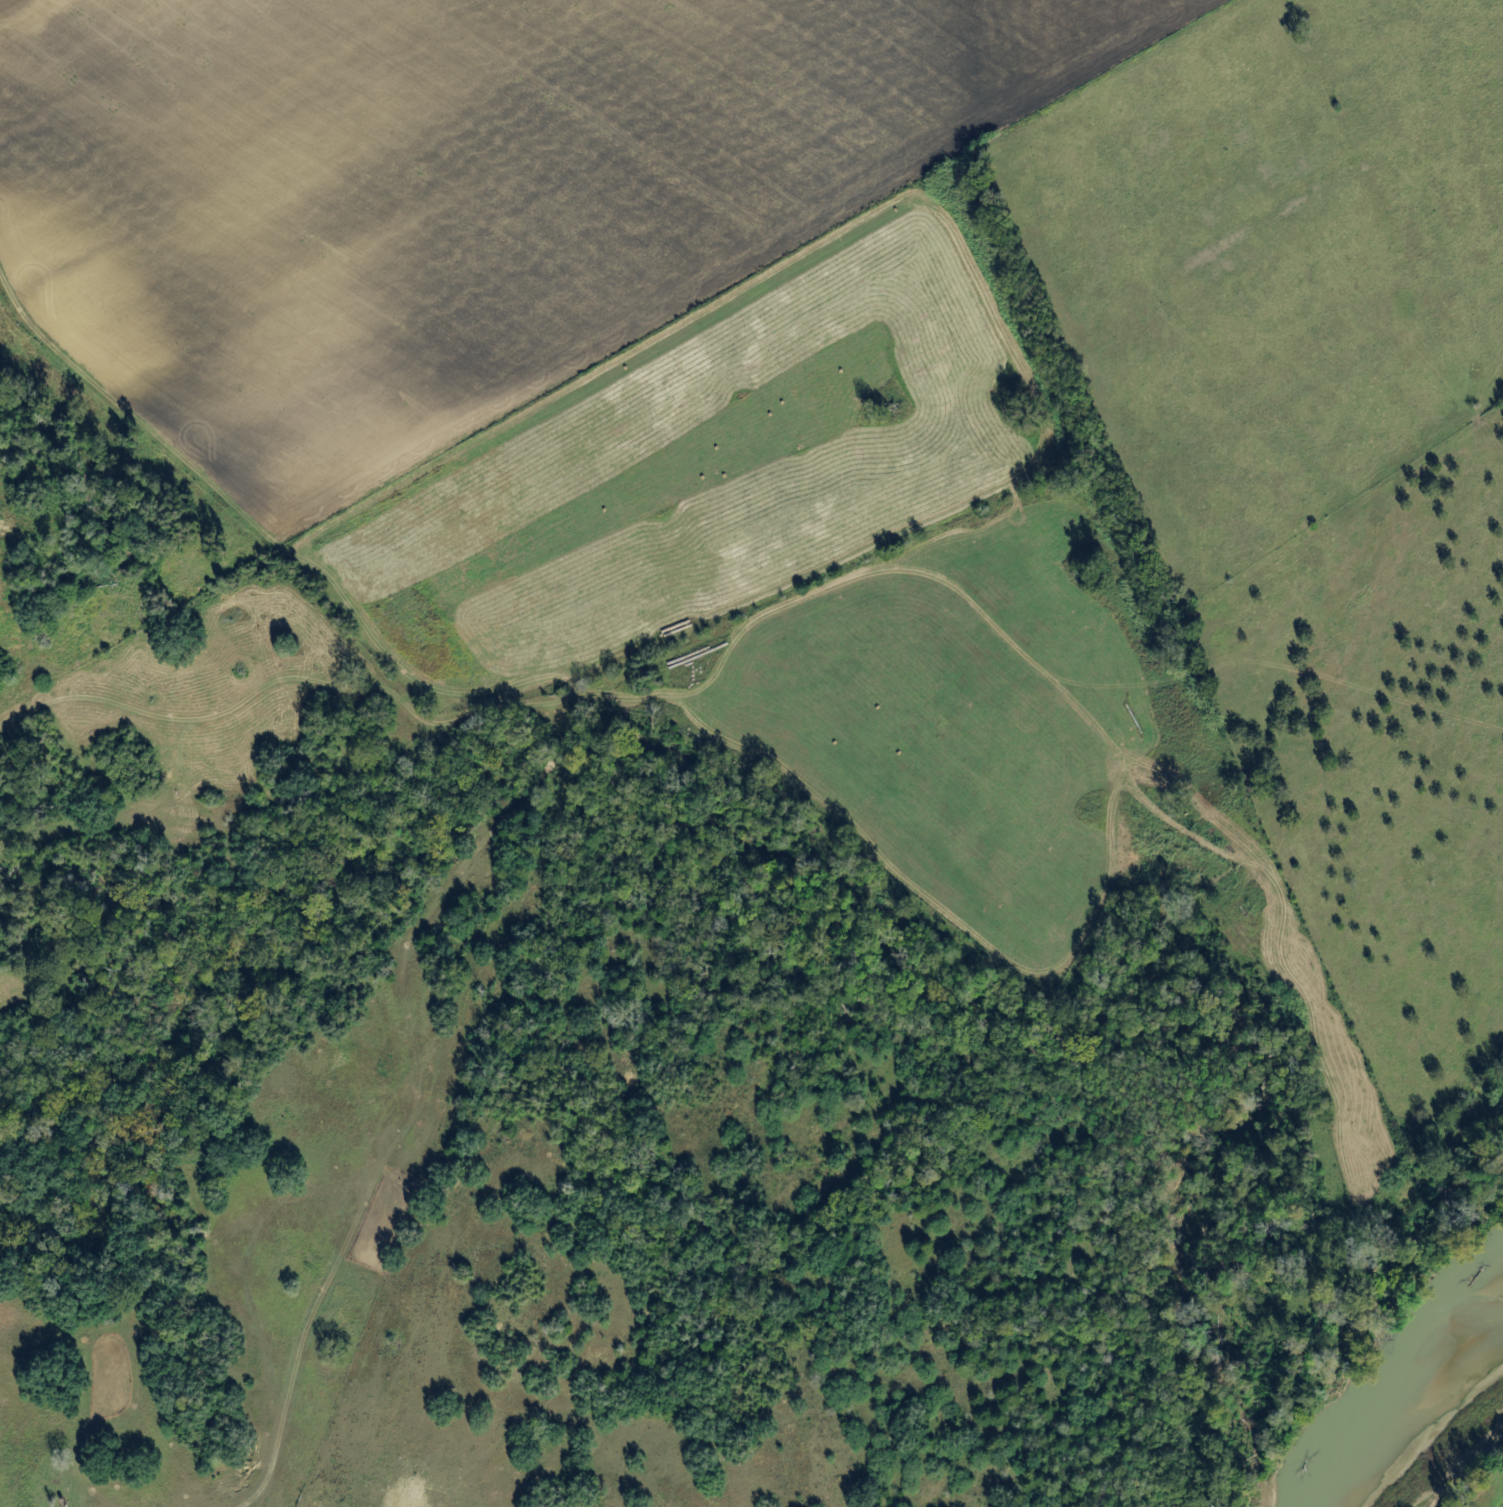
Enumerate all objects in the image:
road: (657, 661)
road: (413, 1098)
river: (1424, 1420)

